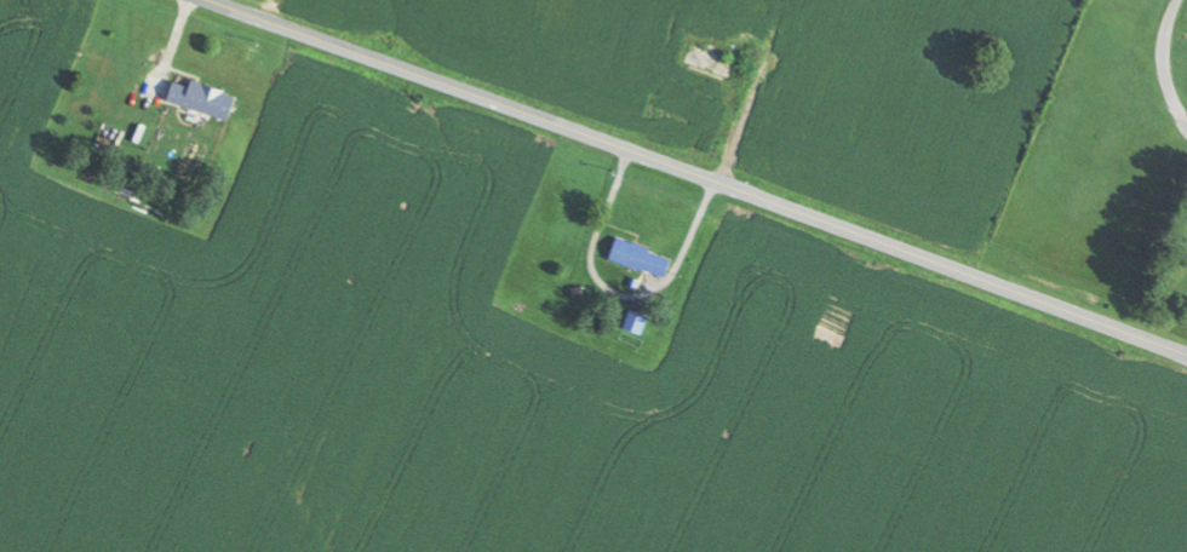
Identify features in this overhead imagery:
road: (1158, 24)
road: (699, 176)

